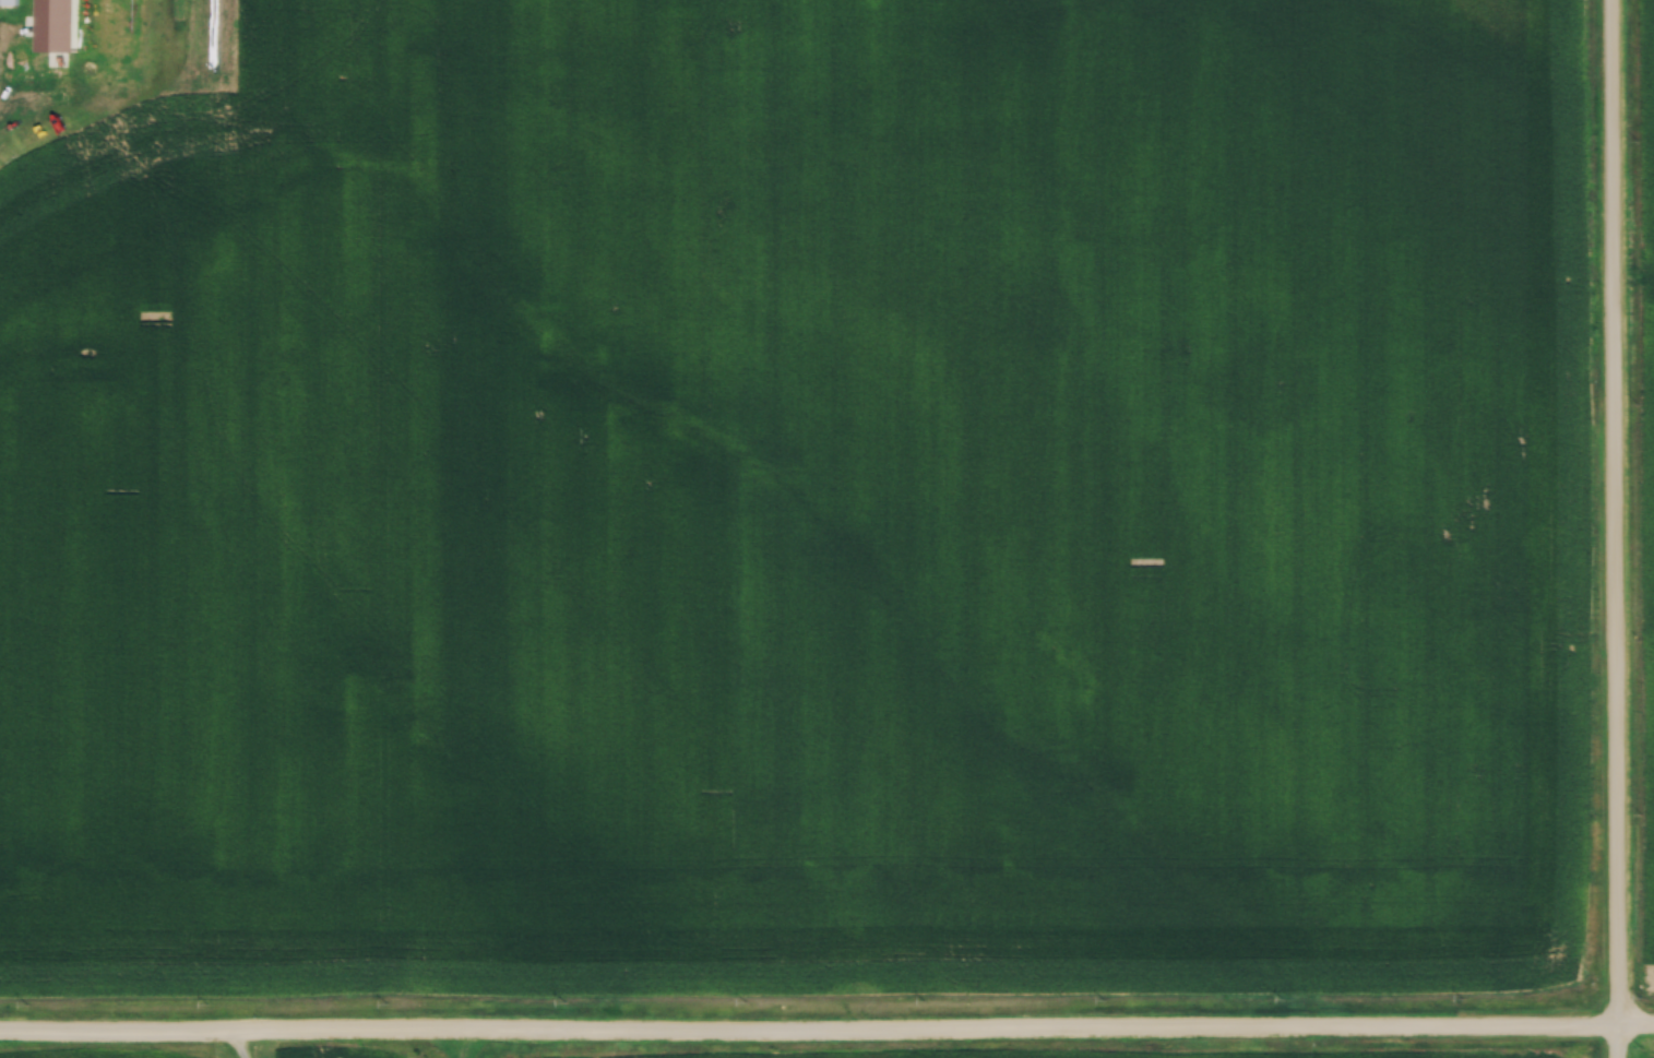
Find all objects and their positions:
building: (8, 1)
road: (1610, 528)
road: (826, 1030)
road: (463, 1044)

